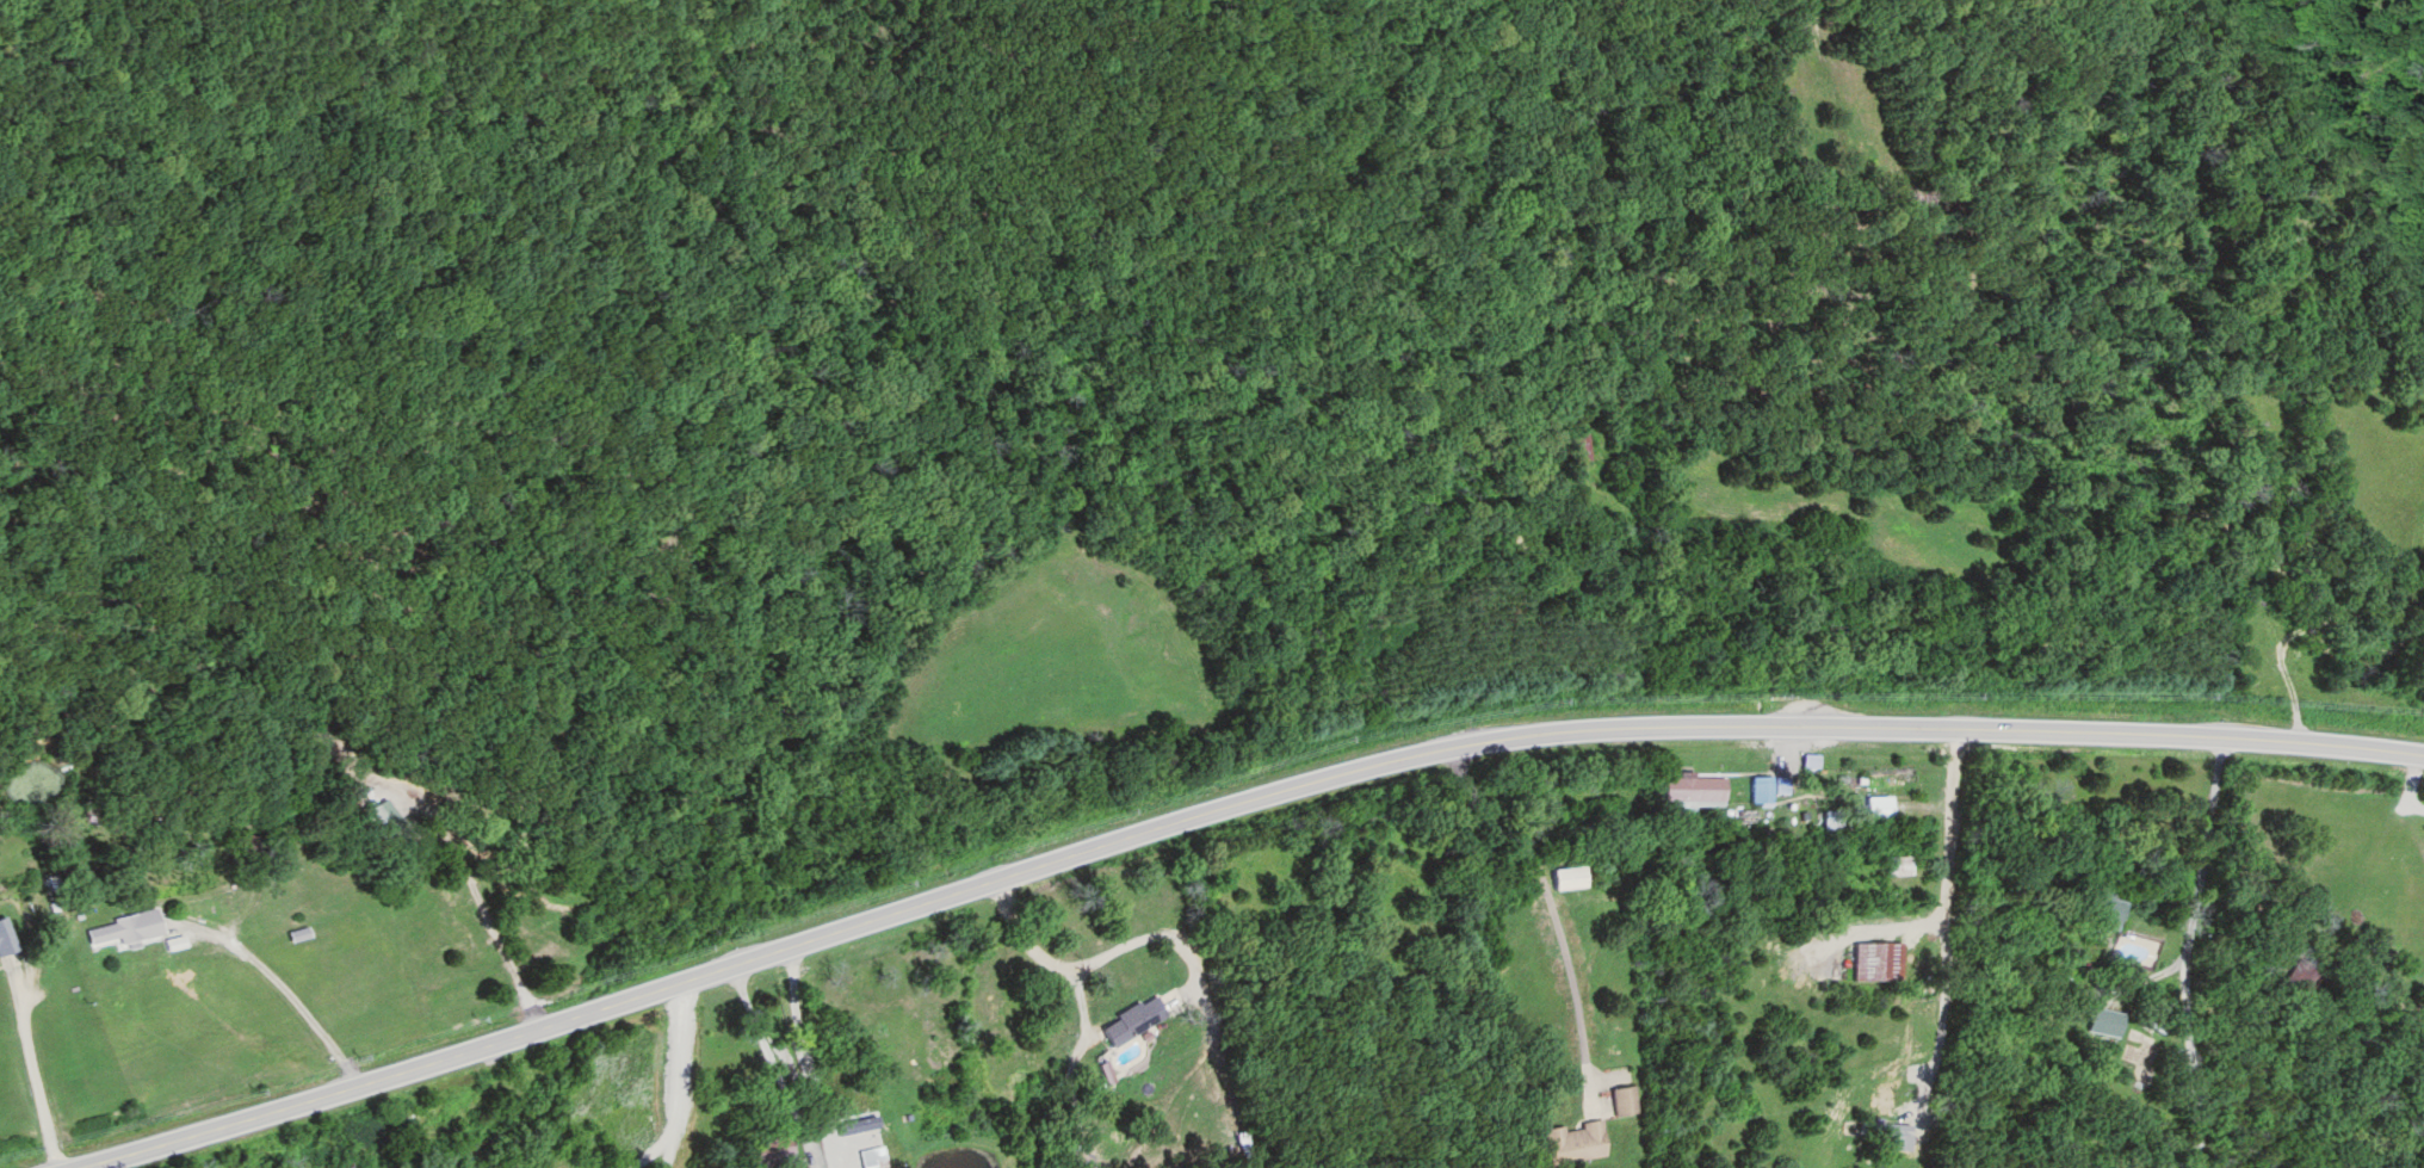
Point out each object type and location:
building: (1698, 789)
building: (1762, 791)
road: (1235, 808)
building: (384, 816)
building: (1859, 816)
building: (1898, 866)
building: (1569, 878)
road: (1943, 925)
building: (2116, 926)
building: (128, 931)
road: (1875, 931)
building: (7, 941)
building: (1878, 962)
road: (290, 993)
building: (1133, 1021)
building: (2107, 1022)
road: (805, 1052)
road: (36, 1069)
building: (1624, 1102)
building: (853, 1125)
building: (1576, 1144)
building: (767, 1150)
building: (873, 1157)
building: (345, 1164)

